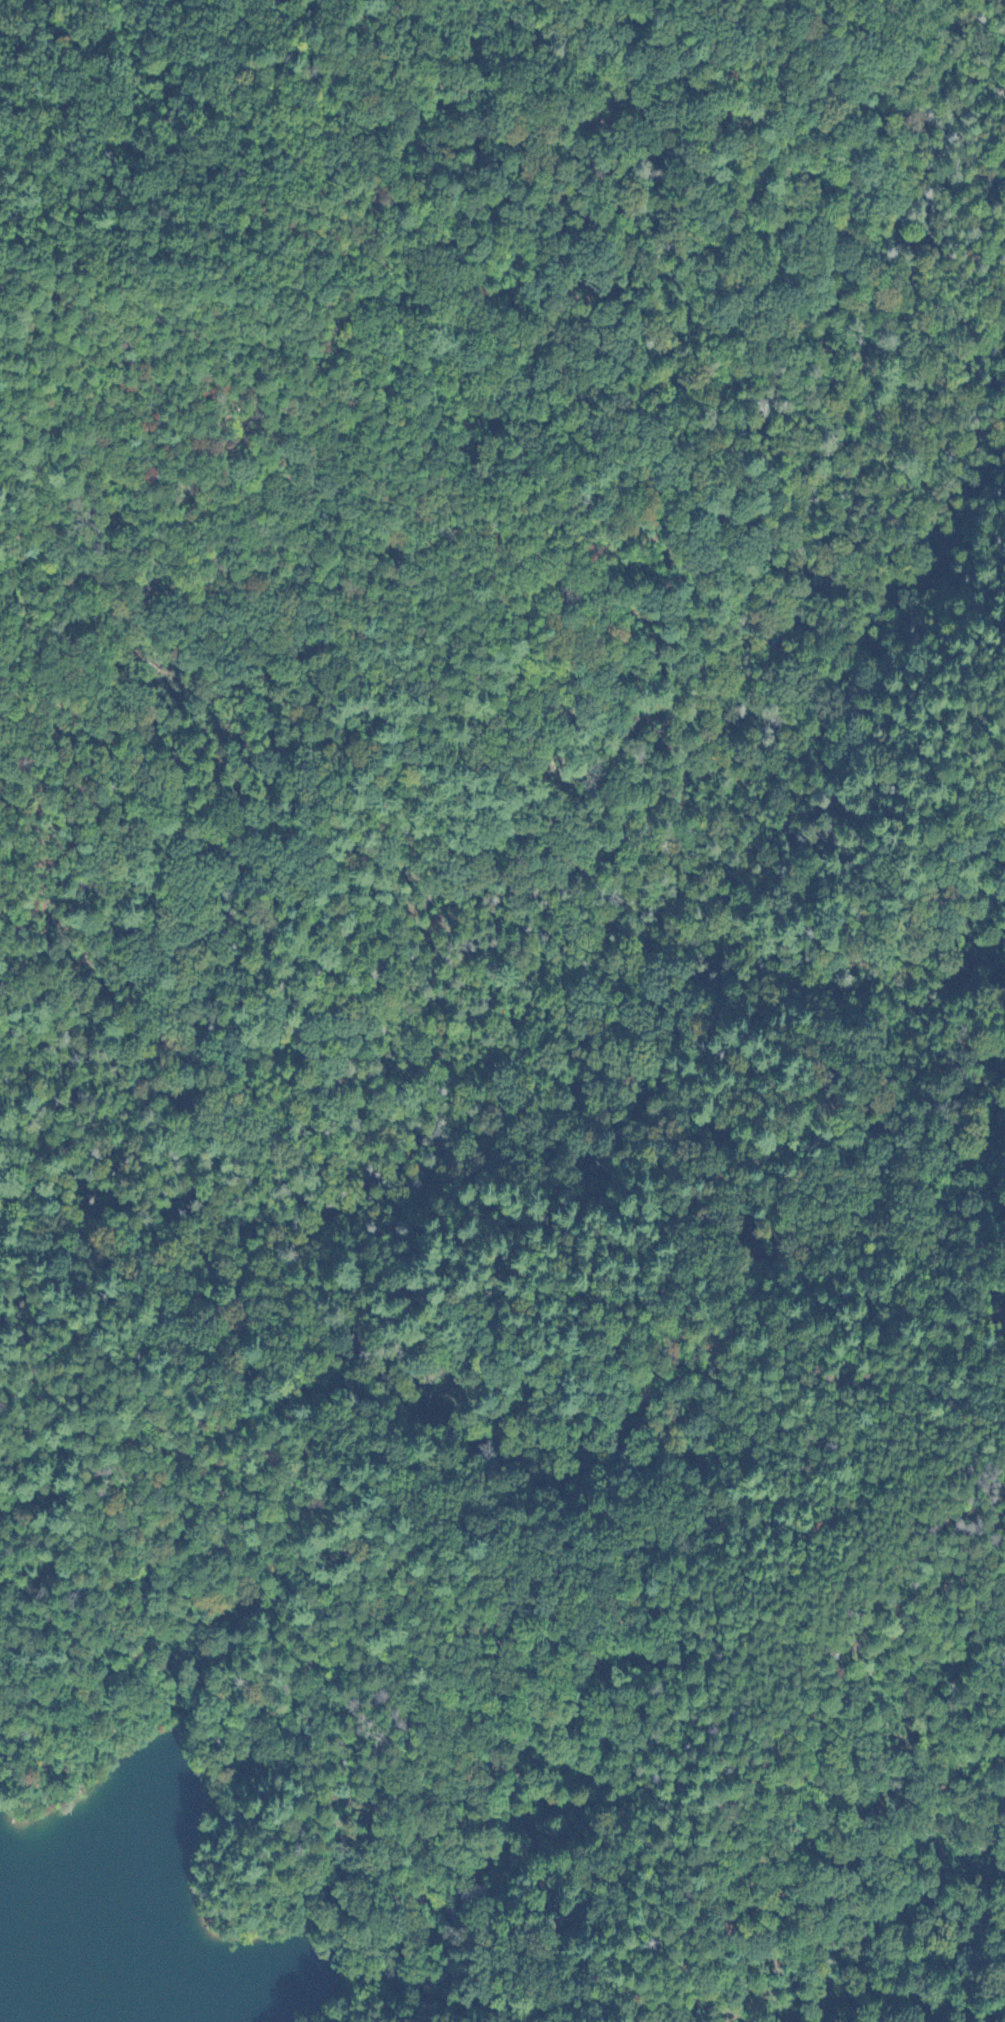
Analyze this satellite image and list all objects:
road: (431, 802)

